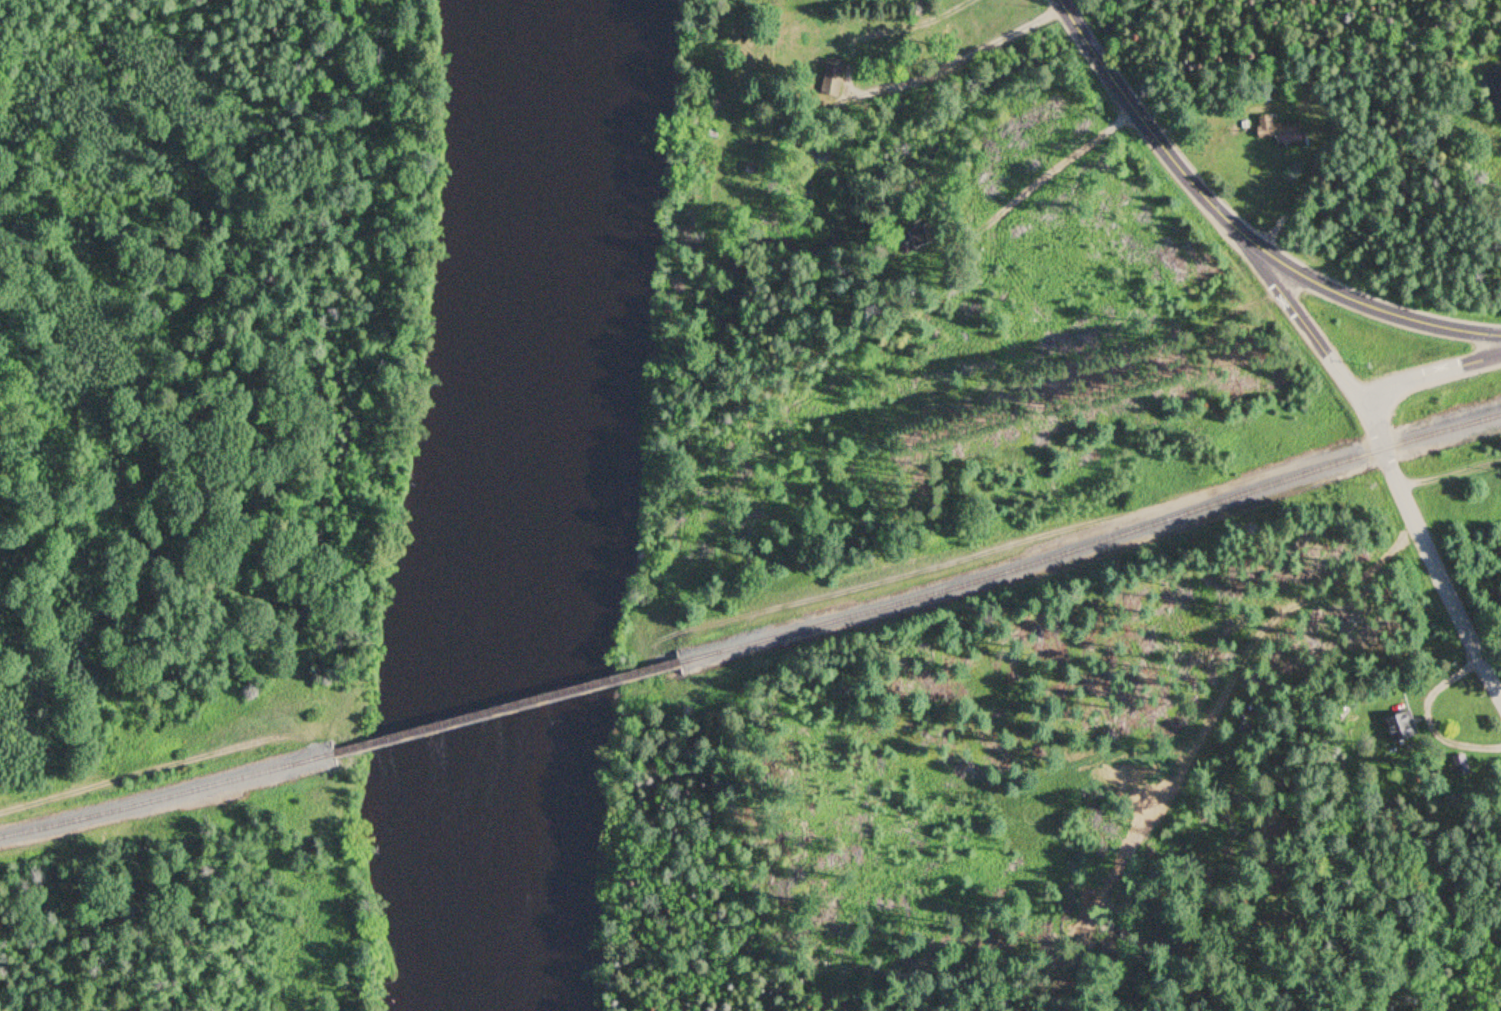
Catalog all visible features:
building: (808, 34)
building: (829, 81)
road: (1145, 128)
building: (1272, 130)
river: (769, 243)
road: (1369, 304)
road: (1306, 323)
road: (1432, 376)
road: (1450, 473)
park: (193, 485)
river: (505, 505)
railway: (1091, 545)
road: (1430, 549)
railway: (506, 708)
building: (1398, 726)
road: (133, 772)
railway: (167, 796)

